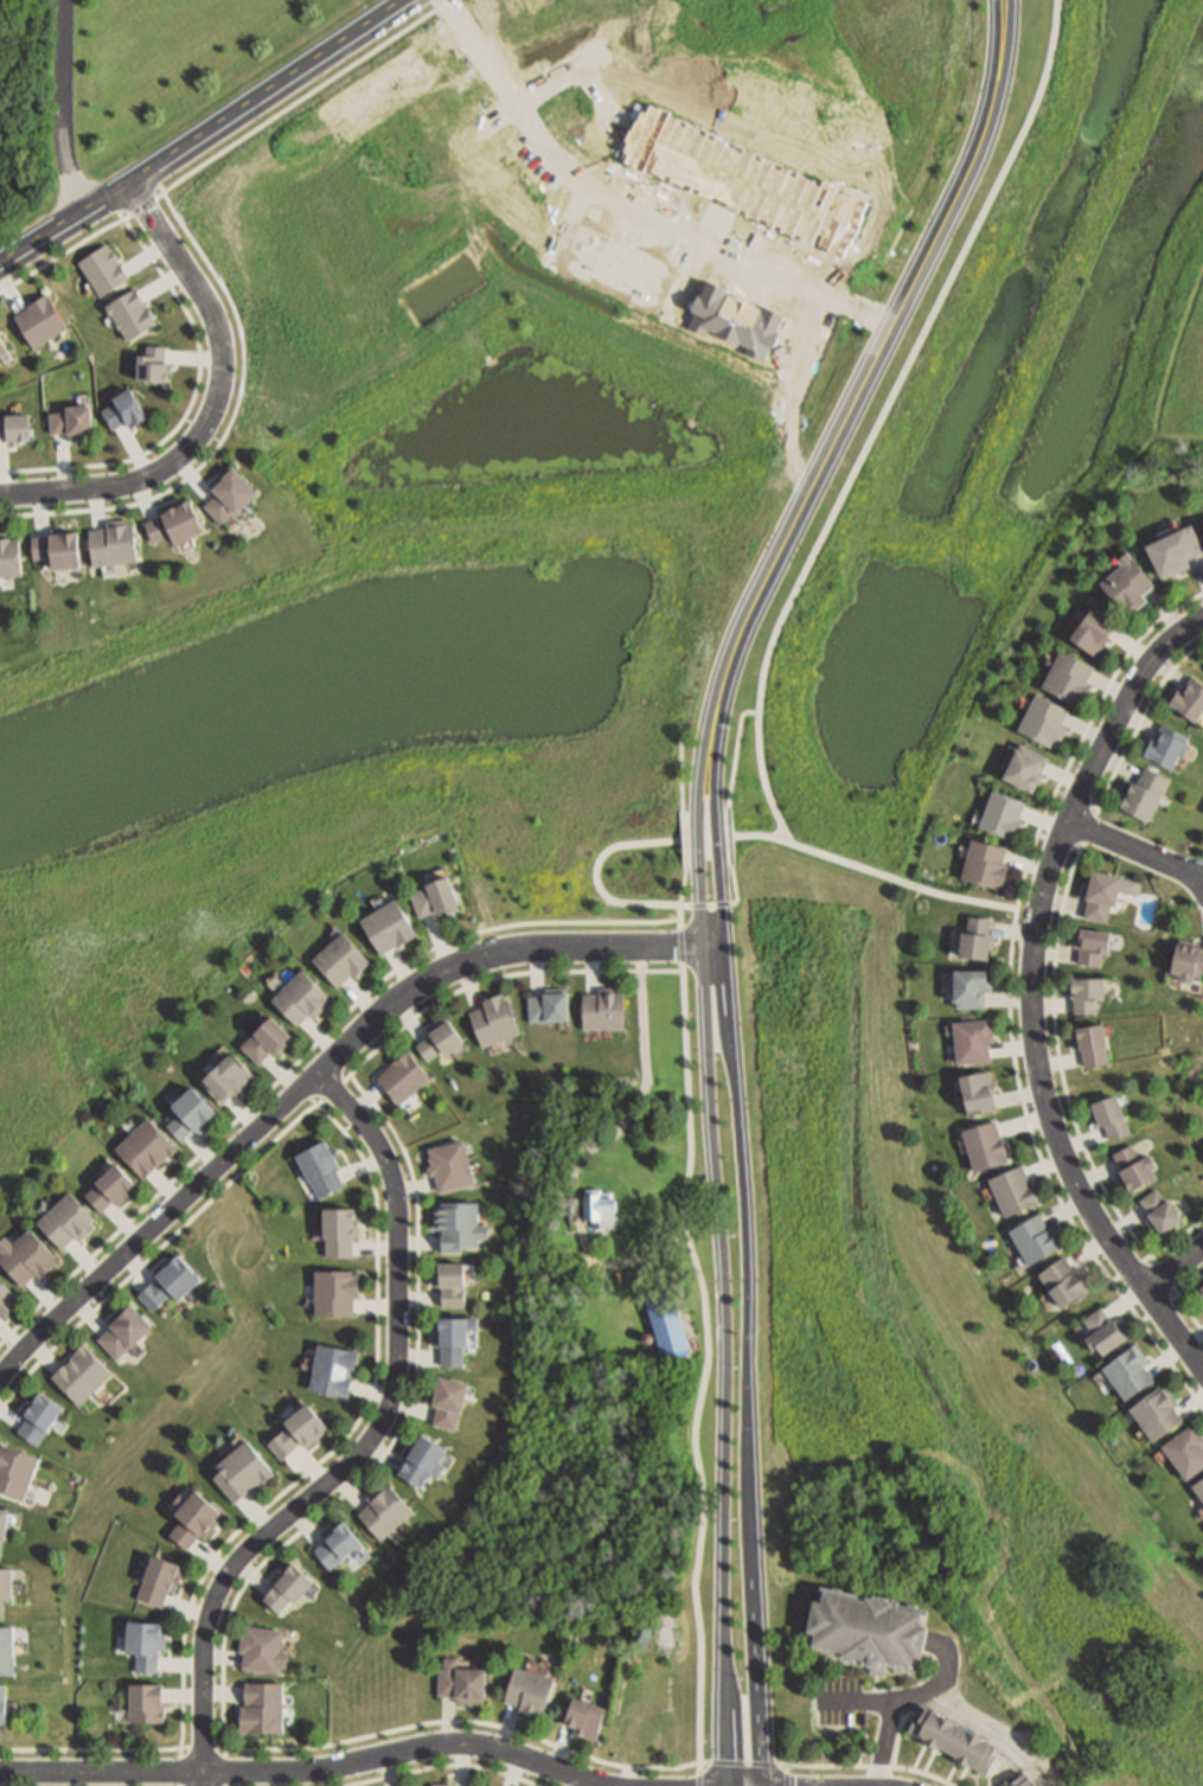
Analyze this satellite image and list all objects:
road: (994, 47)
road: (1005, 49)
road: (60, 107)
road: (200, 133)
road: (228, 149)
road: (635, 200)
building: (104, 273)
park: (1076, 282)
building: (130, 318)
building: (39, 325)
road: (879, 347)
building: (4, 353)
building: (155, 367)
road: (197, 395)
road: (212, 404)
building: (126, 411)
road: (235, 416)
road: (881, 417)
building: (72, 422)
building: (17, 430)
road: (1179, 436)
building: (230, 500)
building: (1202, 512)
building: (175, 523)
building: (1172, 539)
building: (113, 548)
building: (56, 556)
building: (9, 561)
road: (1045, 572)
building: (1126, 575)
building: (1089, 620)
park: (420, 651)
building: (1066, 668)
building: (1189, 691)
road: (712, 698)
road: (722, 700)
building: (1042, 712)
building: (1164, 738)
road: (738, 756)
building: (1023, 757)
road: (683, 777)
building: (1143, 785)
building: (999, 808)
road: (731, 838)
road: (697, 839)
road: (717, 840)
road: (686, 843)
road: (1134, 844)
building: (984, 853)
road: (877, 873)
road: (596, 875)
building: (1099, 886)
road: (685, 888)
road: (737, 892)
building: (436, 900)
road: (702, 905)
building: (386, 928)
building: (973, 929)
building: (1089, 939)
road: (439, 942)
building: (1185, 953)
building: (338, 956)
road: (404, 968)
road: (535, 969)
road: (591, 969)
road: (501, 975)
building: (968, 979)
road: (468, 985)
building: (1084, 985)
road: (1034, 986)
road: (360, 996)
road: (1011, 996)
building: (299, 997)
building: (546, 1003)
building: (602, 1007)
building: (493, 1017)
road: (409, 1019)
road: (321, 1035)
building: (971, 1035)
building: (1089, 1036)
building: (437, 1038)
building: (263, 1039)
road: (303, 1054)
road: (282, 1070)
road: (320, 1070)
building: (224, 1075)
building: (402, 1076)
road: (344, 1078)
park: (1144, 1080)
building: (975, 1083)
road: (366, 1095)
road: (242, 1109)
building: (1107, 1110)
building: (192, 1115)
park: (919, 1133)
building: (981, 1135)
building: (143, 1145)
road: (203, 1151)
building: (1131, 1160)
building: (447, 1164)
building: (319, 1165)
road: (361, 1165)
road: (572, 1173)
building: (1011, 1182)
road: (162, 1184)
road: (415, 1184)
building: (107, 1186)
building: (1157, 1205)
building: (597, 1206)
building: (64, 1218)
road: (121, 1220)
building: (456, 1223)
building: (339, 1229)
building: (1032, 1230)
road: (395, 1243)
road: (160, 1246)
building: (23, 1254)
road: (83, 1255)
road: (1172, 1262)
road: (136, 1270)
building: (1062, 1274)
building: (449, 1281)
building: (171, 1284)
building: (1199, 1285)
road: (44, 1293)
building: (335, 1295)
road: (416, 1297)
building: (1201, 1298)
building: (7, 1301)
road: (377, 1308)
road: (88, 1316)
building: (666, 1323)
building: (1100, 1324)
road: (723, 1326)
road: (749, 1326)
building: (122, 1329)
building: (450, 1336)
road: (11, 1338)
silo: (648, 1340)
road: (710, 1345)
road: (45, 1352)
road: (417, 1353)
building: (1126, 1364)
building: (331, 1368)
building: (79, 1371)
road: (370, 1388)
building: (452, 1403)
building: (1154, 1406)
road: (412, 1408)
road: (12, 1417)
building: (40, 1419)
building: (299, 1433)
road: (361, 1445)
building: (1184, 1445)
road: (384, 1451)
building: (421, 1460)
road: (311, 1465)
building: (17, 1473)
building: (243, 1473)
building: (1198, 1480)
road: (347, 1489)
building: (383, 1509)
road: (256, 1512)
building: (1, 1517)
building: (194, 1523)
road: (306, 1523)
building: (334, 1543)
road: (210, 1558)
road: (252, 1570)
building: (158, 1577)
building: (4, 1581)
building: (286, 1587)
road: (185, 1605)
building: (0, 1609)
building: (866, 1628)
building: (143, 1641)
building: (261, 1646)
building: (6, 1647)
road: (223, 1654)
road: (180, 1663)
building: (459, 1678)
building: (529, 1684)
road: (201, 1692)
road: (900, 1699)
building: (1, 1702)
building: (143, 1702)
road: (857, 1702)
building: (260, 1705)
building: (583, 1715)
road: (448, 1718)
road: (463, 1722)
road: (505, 1726)
road: (992, 1728)
building: (641, 1729)
building: (953, 1739)
road: (559, 1745)
road: (203, 1747)
road: (91, 1750)
road: (462, 1761)
road: (744, 1763)
road: (629, 1765)
road: (315, 1767)
road: (444, 1767)
road: (872, 1767)
road: (388, 1768)
road: (513, 1768)
road: (788, 1775)
road: (575, 1779)
building: (1018, 1780)
building: (440, 1784)
building: (454, 1785)

